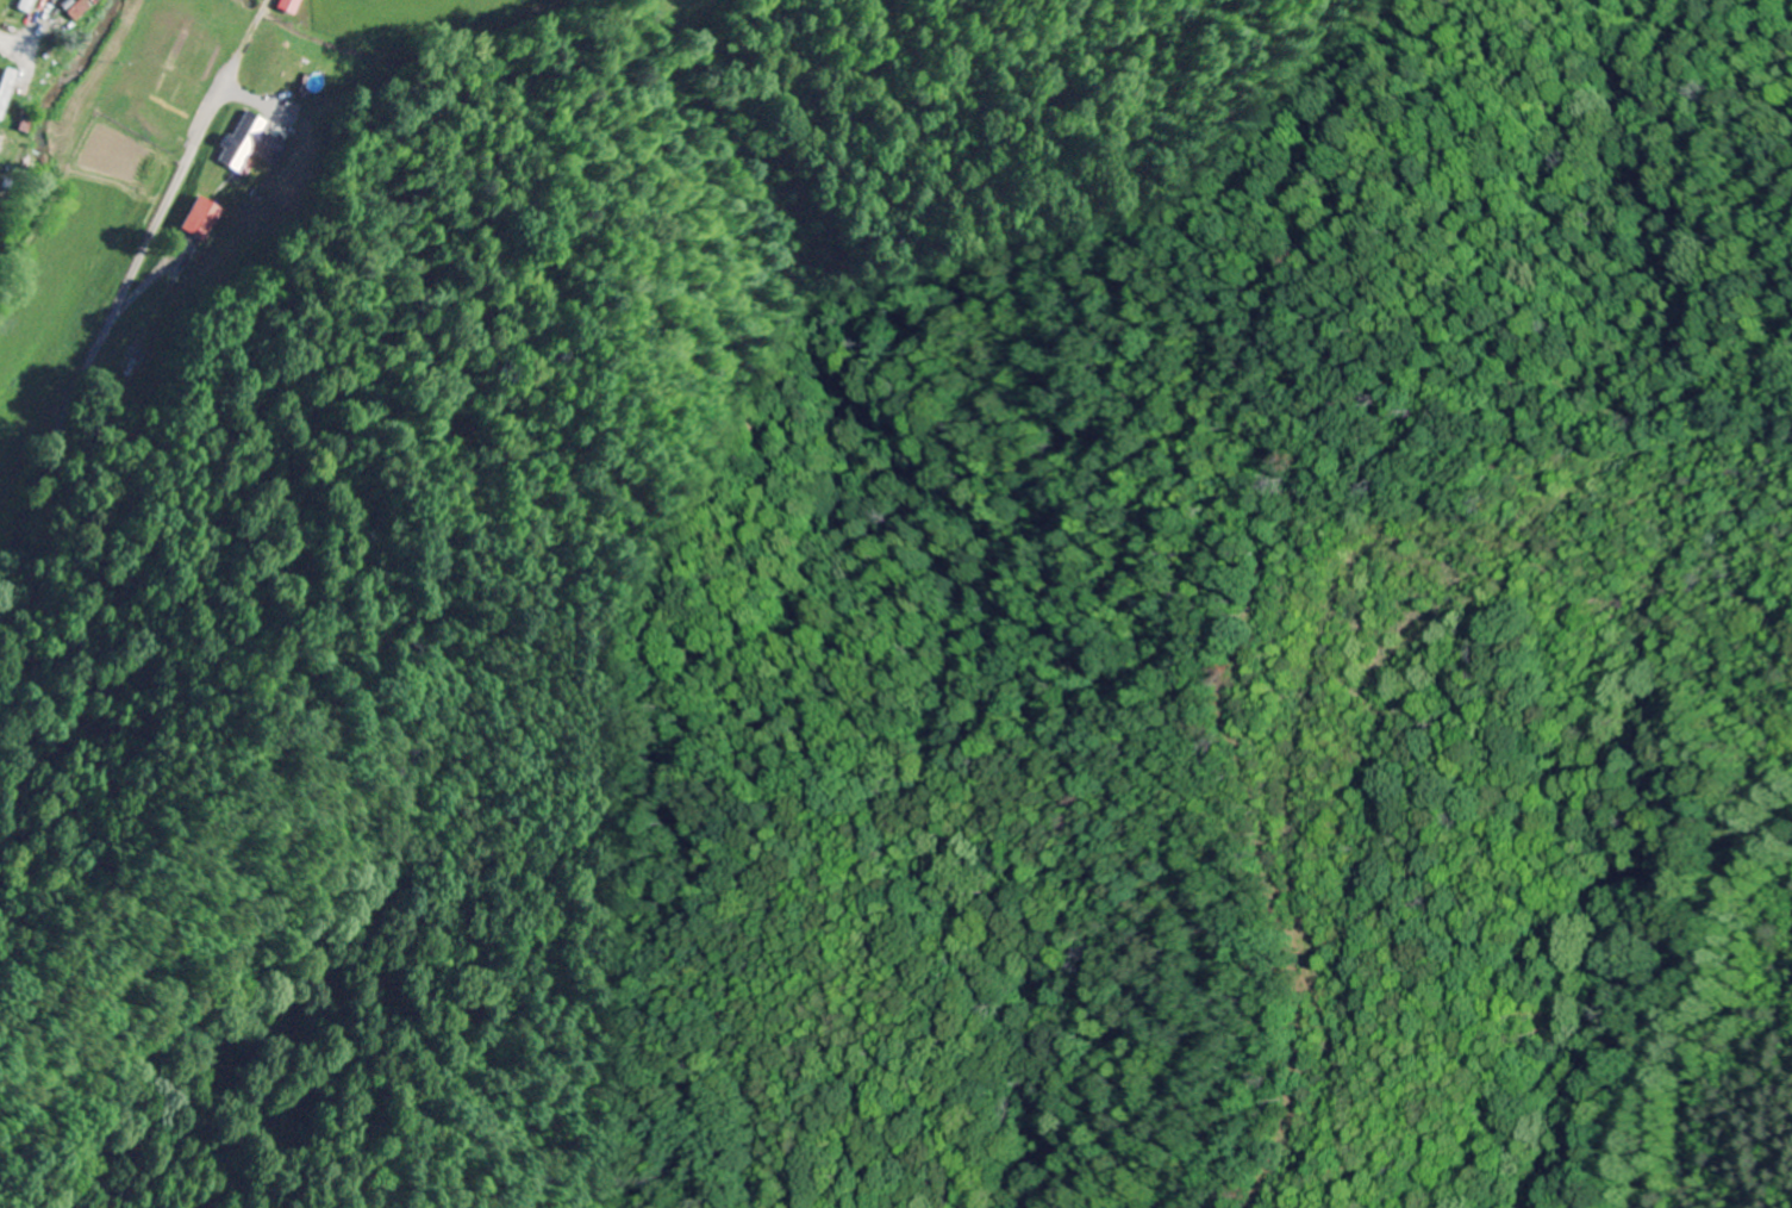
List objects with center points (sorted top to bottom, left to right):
building: (29, 5)
building: (293, 6)
building: (79, 8)
road: (12, 39)
building: (6, 89)
building: (2, 143)
building: (260, 144)
building: (213, 218)
road: (88, 387)

